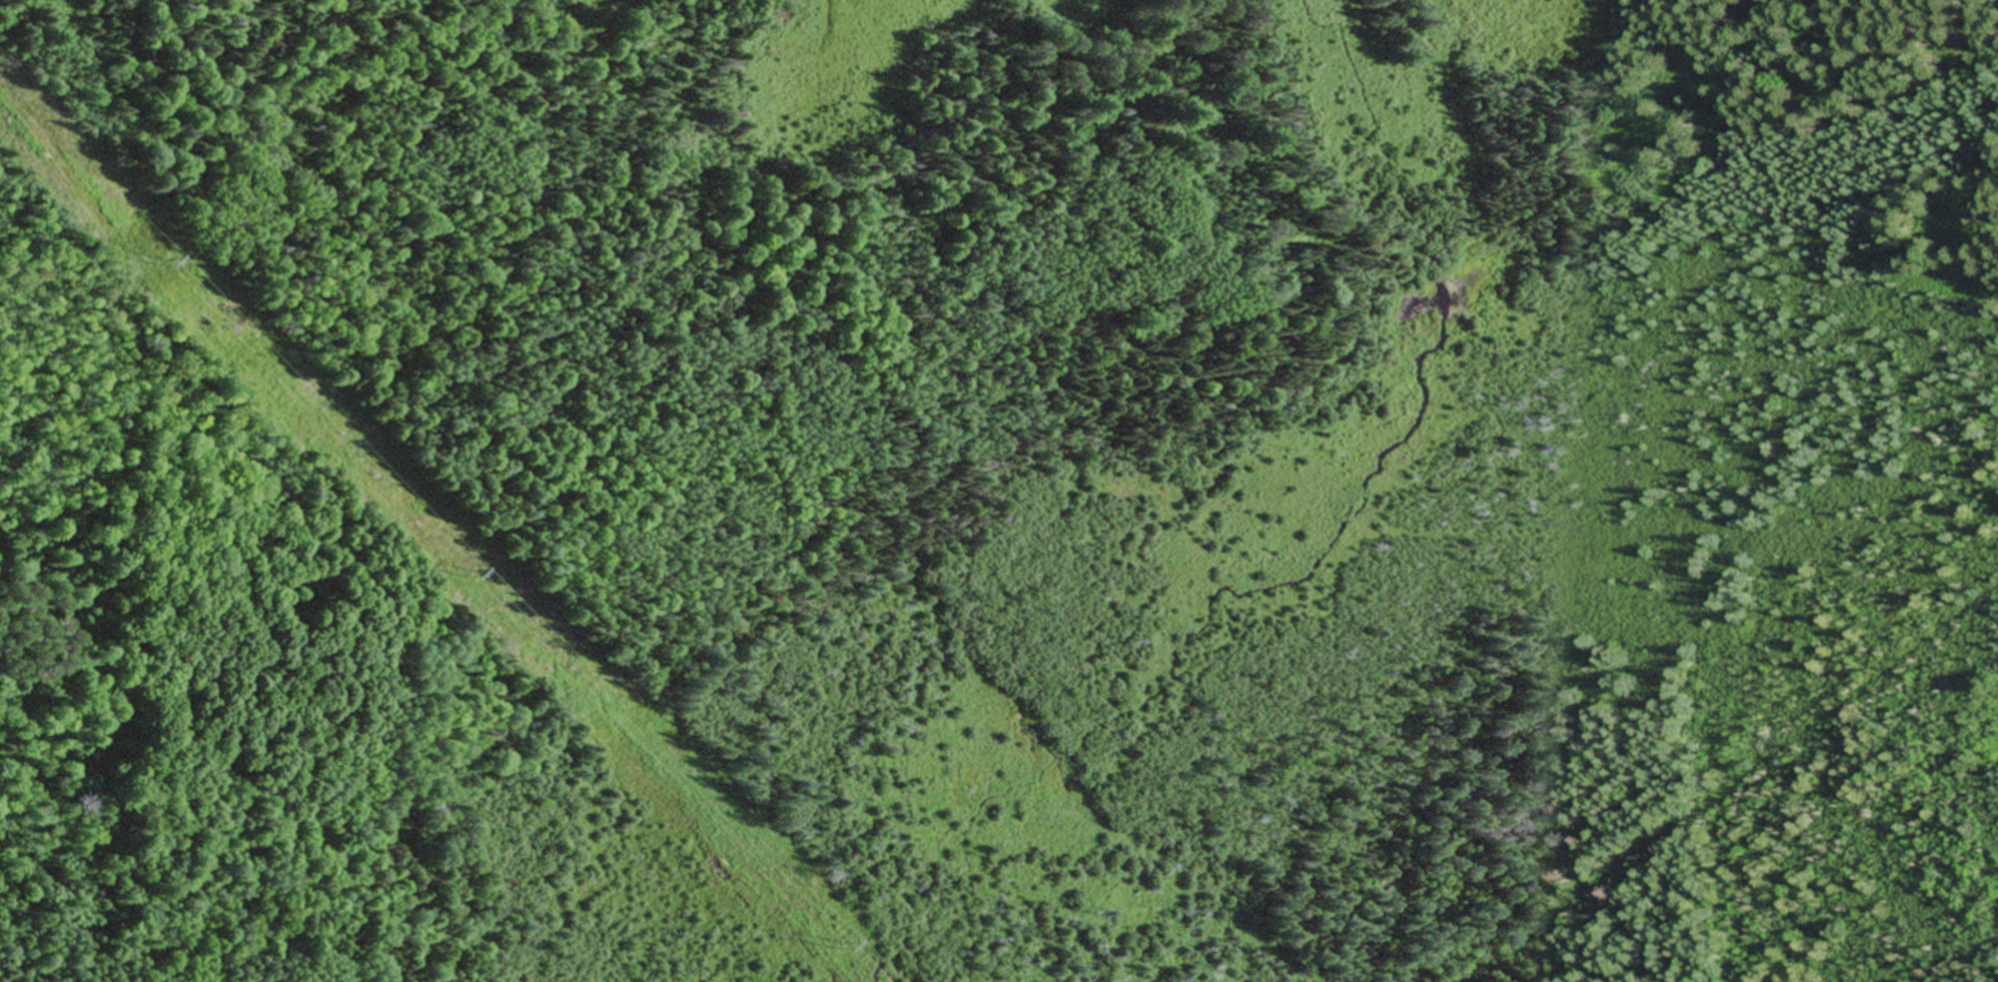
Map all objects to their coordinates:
power tower: (161, 267)
power tower: (473, 578)
power tower: (839, 949)

